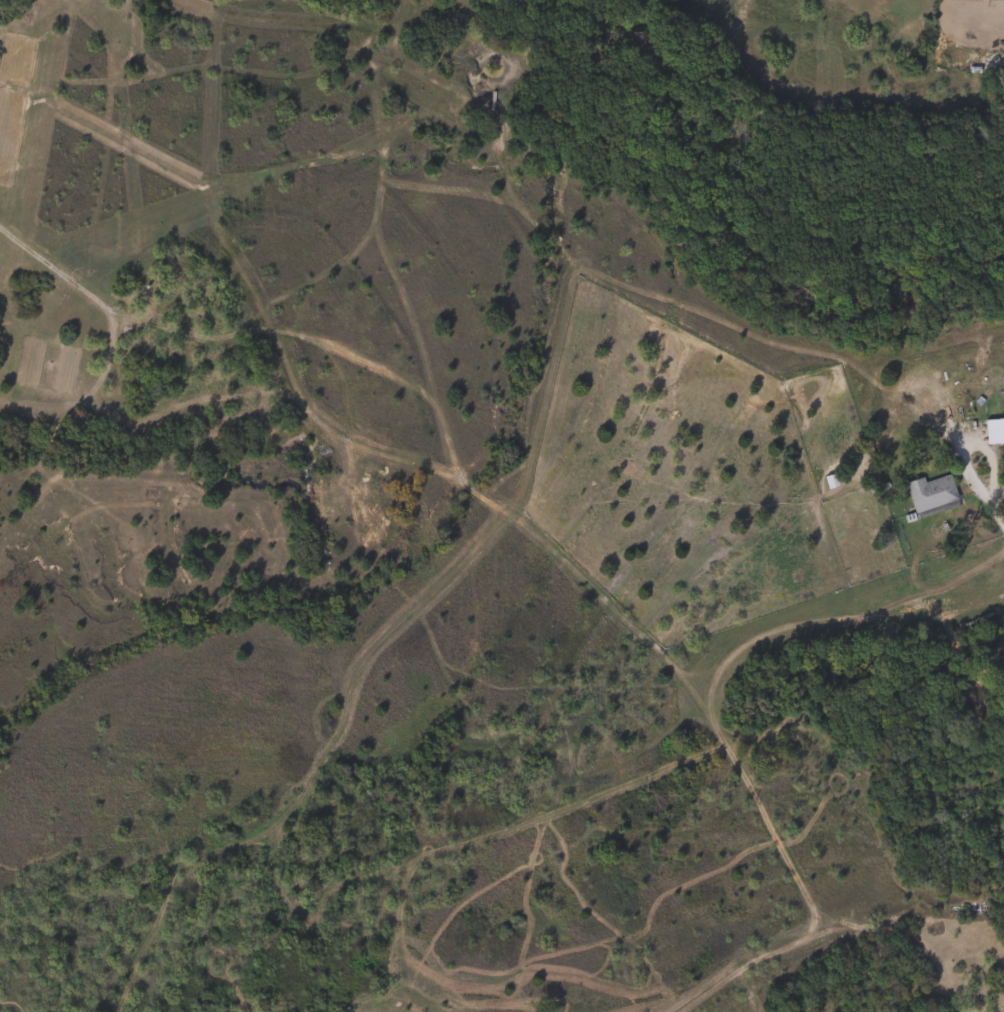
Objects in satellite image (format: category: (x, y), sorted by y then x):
building: (992, 430)
building: (928, 492)
road: (989, 495)

